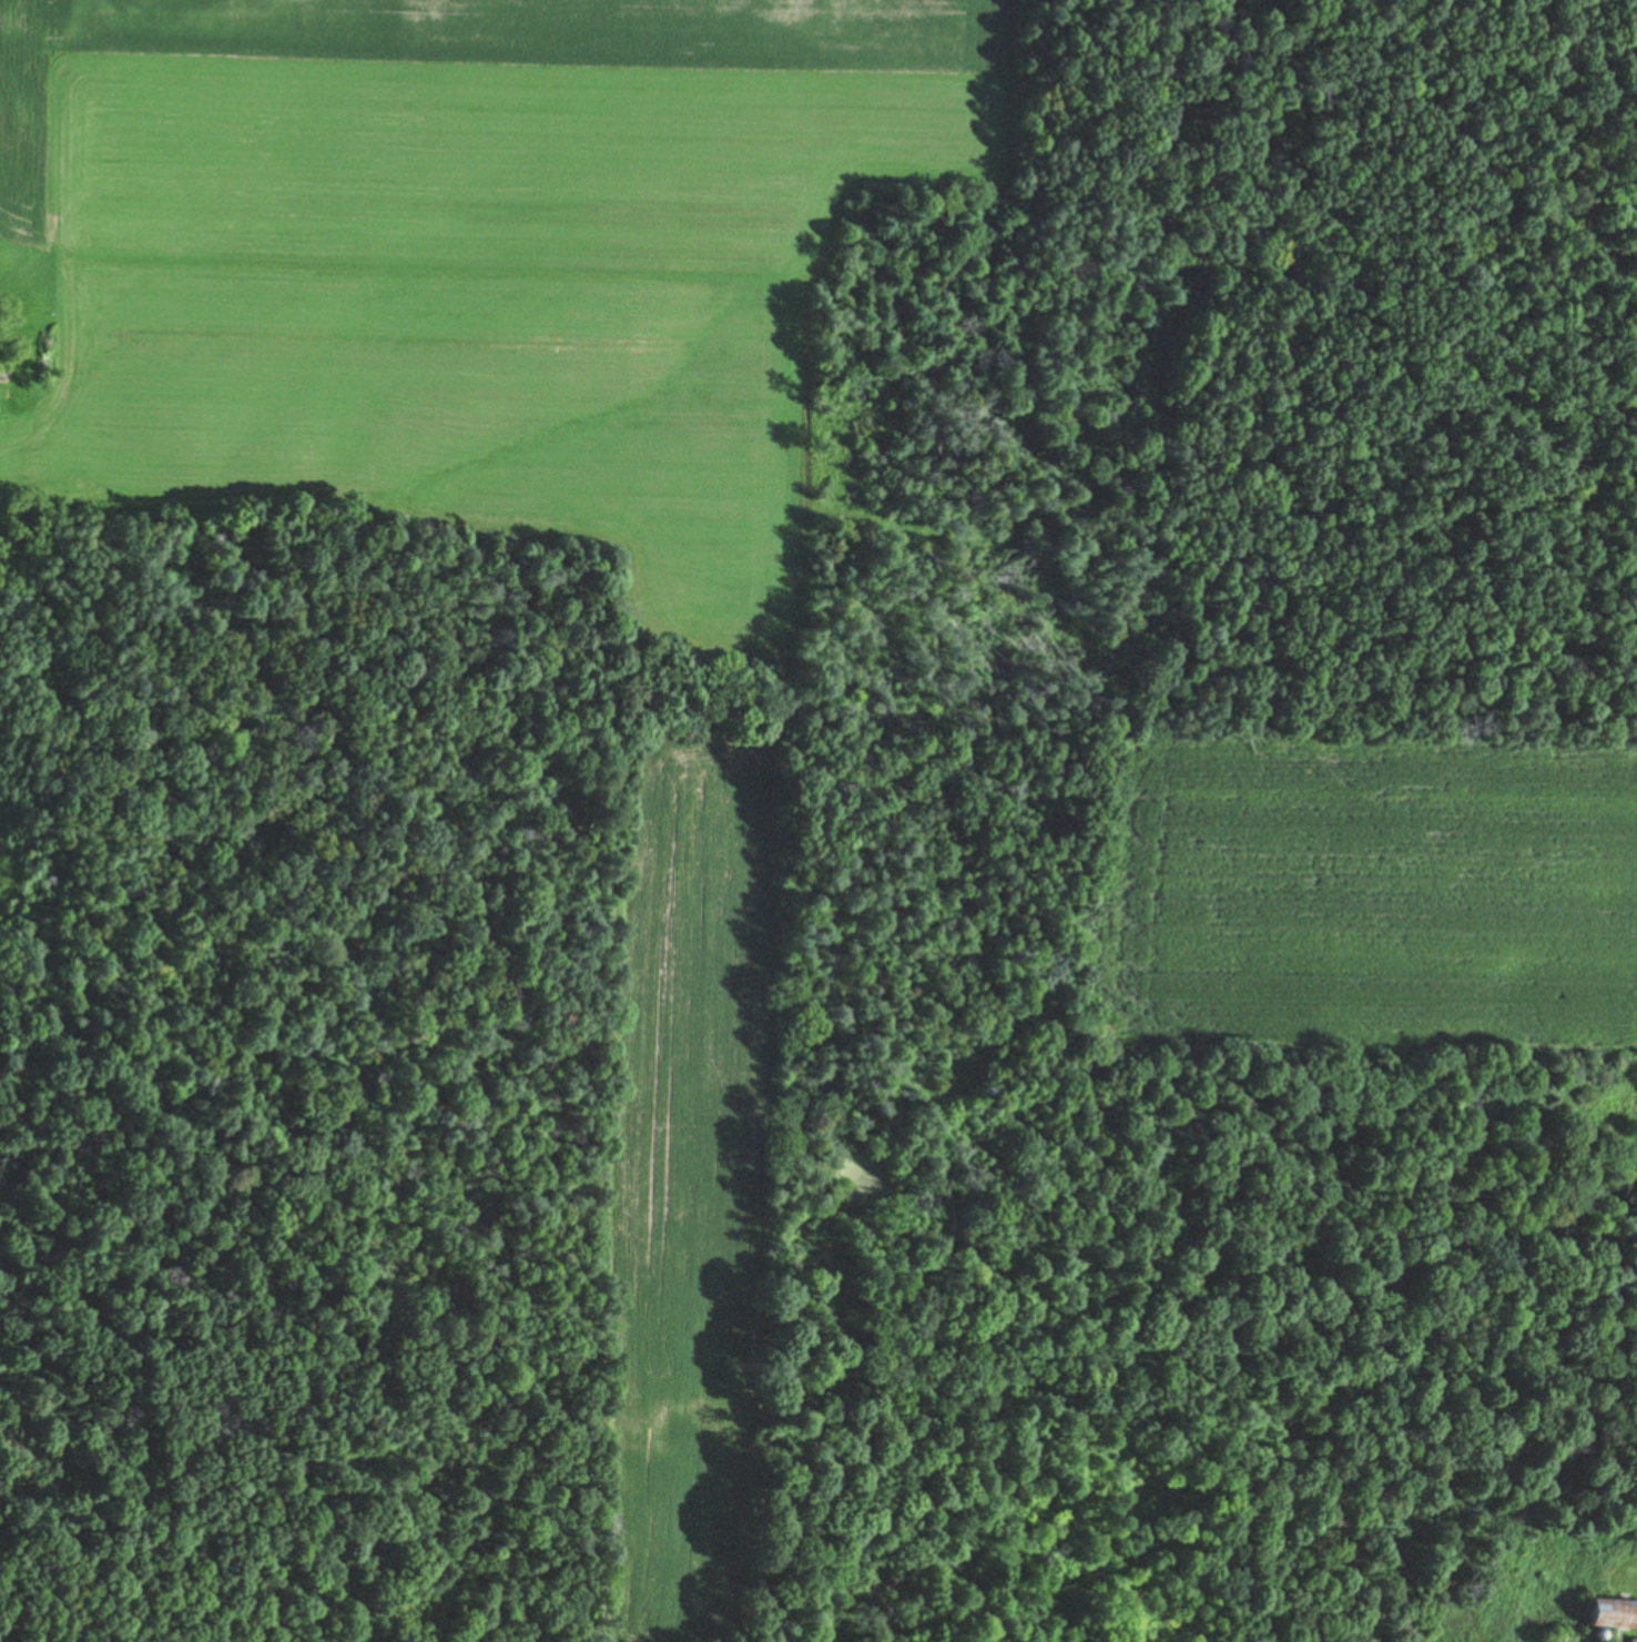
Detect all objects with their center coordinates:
building: (1615, 1615)
building: (1634, 1640)

